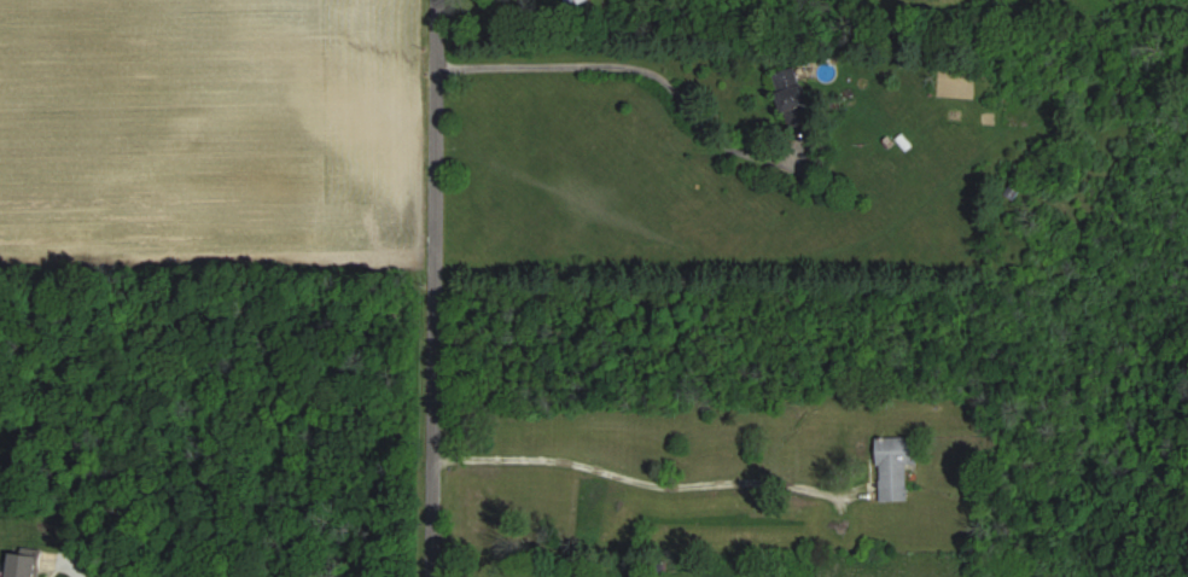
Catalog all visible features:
road: (636, 66)
road: (437, 287)
building: (897, 467)
road: (636, 482)
building: (25, 566)

